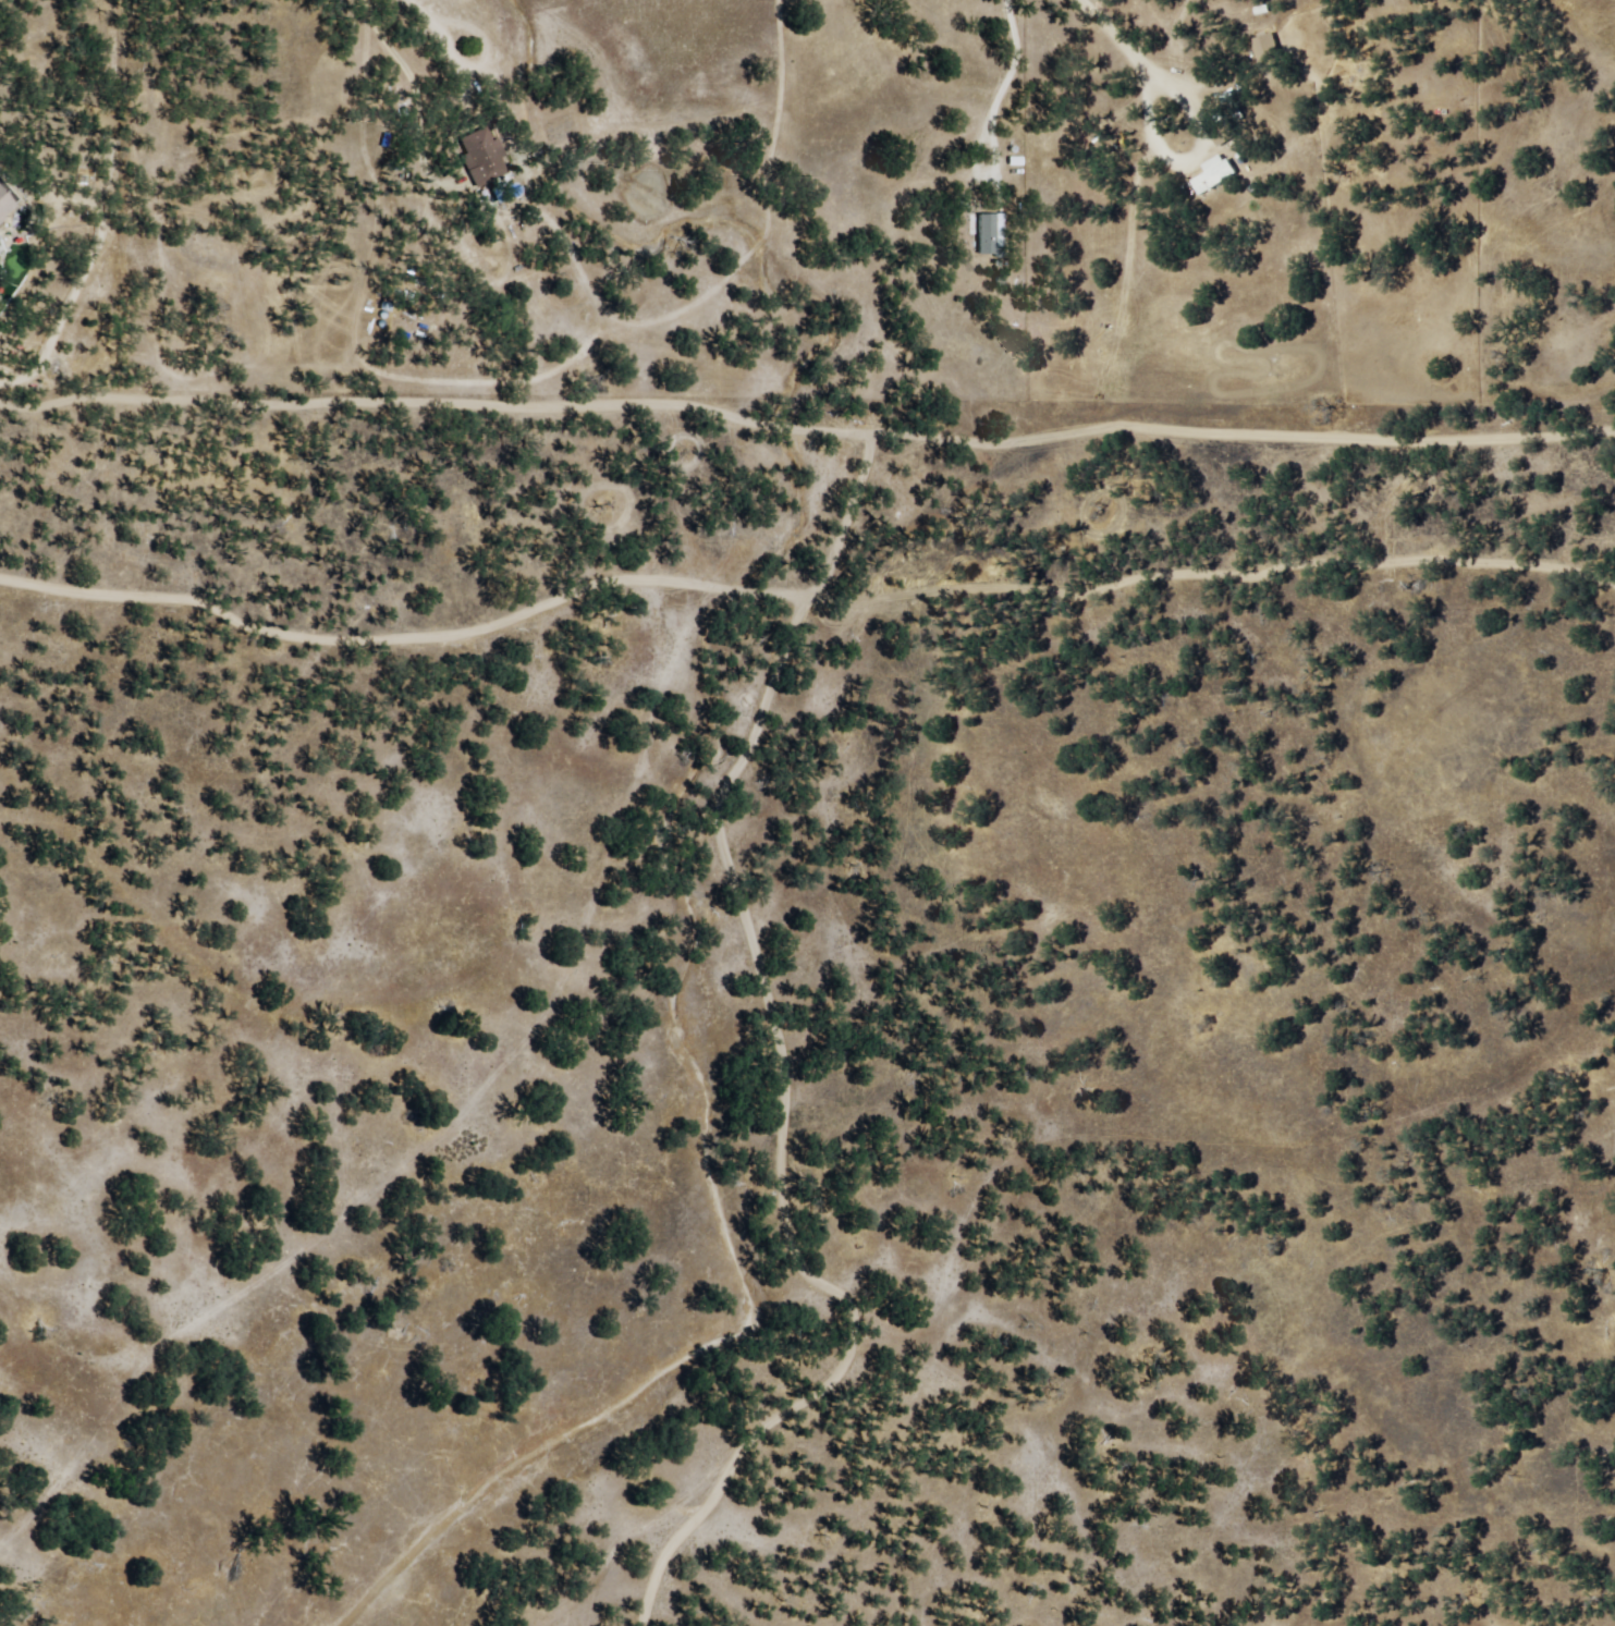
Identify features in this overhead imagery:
building: (1264, 48)
building: (481, 157)
building: (1218, 174)
building: (4, 204)
building: (988, 235)
road: (1447, 335)
road: (566, 790)

